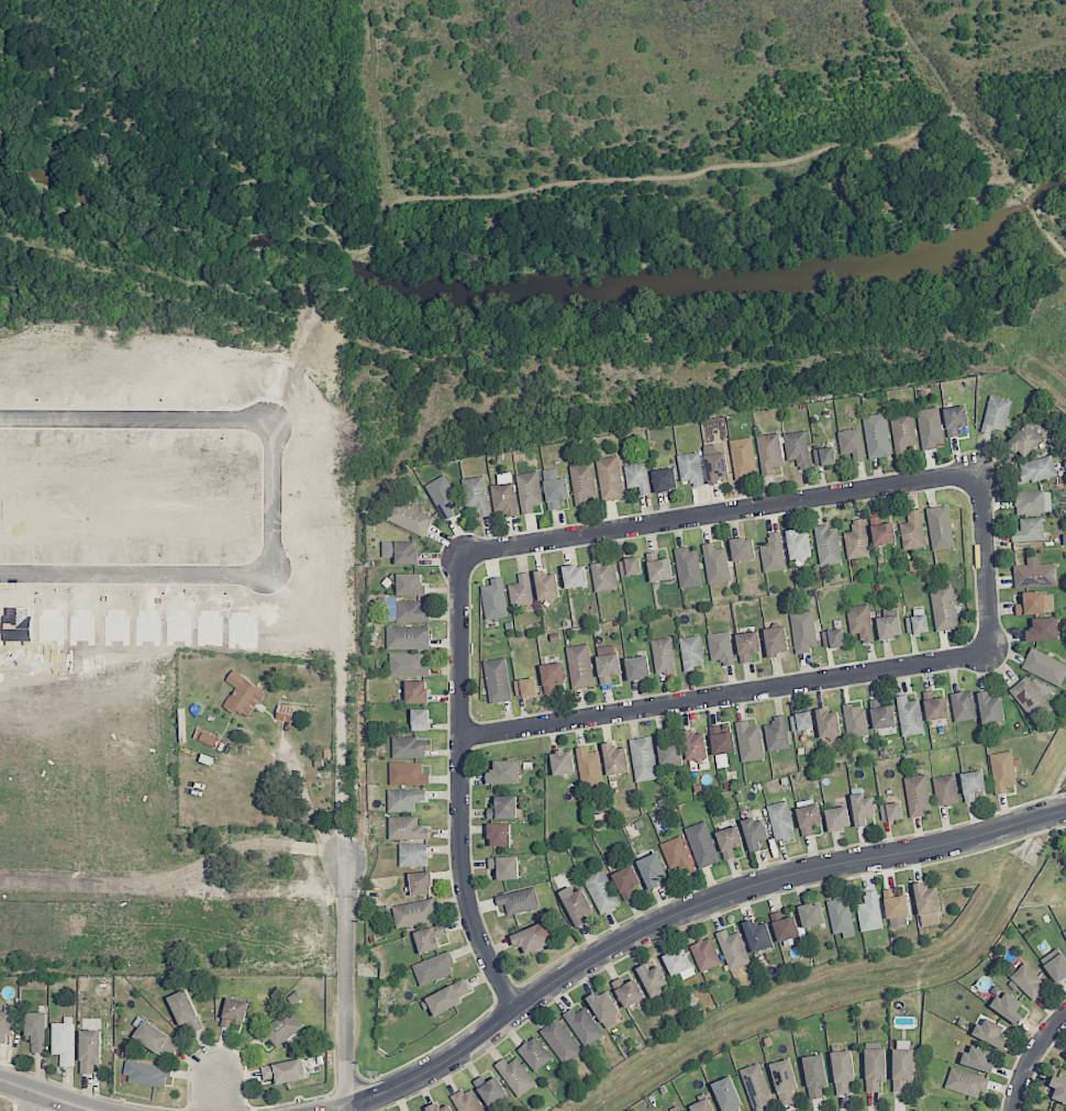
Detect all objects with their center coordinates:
building: (996, 414)
building: (955, 419)
building: (930, 427)
building: (902, 431)
building: (877, 435)
building: (1024, 441)
building: (851, 443)
building: (797, 448)
building: (769, 453)
building: (824, 456)
building: (743, 457)
building: (715, 464)
building: (691, 468)
building: (1037, 469)
building: (637, 477)
building: (610, 478)
building: (665, 479)
building: (582, 484)
building: (555, 489)
building: (529, 491)
road: (278, 492)
building: (476, 495)
building: (443, 497)
building: (504, 498)
building: (1033, 502)
road: (720, 513)
building: (409, 518)
building: (940, 527)
building: (1030, 530)
building: (912, 531)
building: (882, 532)
building: (857, 540)
building: (828, 545)
building: (798, 546)
building: (743, 548)
building: (400, 552)
building: (774, 554)
road: (985, 563)
building: (715, 564)
building: (630, 566)
building: (658, 567)
building: (688, 567)
building: (1034, 574)
building: (575, 576)
building: (603, 576)
building: (411, 585)
building: (547, 585)
building: (521, 591)
building: (493, 599)
building: (1036, 603)
building: (943, 609)
building: (406, 610)
building: (860, 622)
building: (917, 624)
building: (889, 626)
building: (1043, 630)
building: (803, 631)
building: (408, 637)
building: (833, 637)
building: (776, 641)
building: (747, 645)
building: (721, 647)
building: (691, 652)
building: (663, 656)
building: (607, 663)
building: (408, 665)
building: (580, 666)
building: (637, 667)
building: (1044, 667)
building: (552, 676)
building: (497, 680)
building: (525, 687)
building: (417, 691)
building: (243, 695)
road: (724, 698)
building: (1030, 700)
building: (935, 706)
building: (963, 706)
building: (990, 708)
building: (288, 713)
building: (881, 714)
building: (910, 716)
building: (420, 720)
building: (855, 720)
building: (801, 721)
building: (828, 723)
building: (777, 734)
building: (749, 742)
building: (695, 744)
building: (410, 747)
building: (668, 752)
building: (615, 759)
building: (643, 759)
building: (563, 763)
building: (589, 767)
building: (1002, 771)
building: (504, 773)
building: (408, 774)
building: (973, 785)
road: (458, 789)
building: (946, 790)
building: (918, 795)
building: (404, 799)
building: (503, 808)
building: (862, 809)
building: (891, 811)
building: (808, 818)
building: (837, 818)
building: (780, 821)
building: (407, 829)
building: (755, 832)
building: (499, 834)
building: (729, 842)
building: (701, 844)
building: (413, 855)
building: (676, 855)
building: (506, 867)
building: (652, 870)
building: (626, 881)
road: (175, 882)
building: (421, 884)
building: (600, 890)
building: (519, 901)
building: (577, 904)
building: (928, 904)
building: (896, 907)
road: (686, 911)
building: (869, 911)
building: (414, 913)
building: (811, 914)
building: (841, 916)
building: (785, 925)
building: (1065, 933)
building: (757, 935)
building: (532, 937)
building: (429, 938)
building: (733, 949)
building: (706, 954)
building: (679, 964)
building: (1055, 964)
building: (433, 968)
building: (653, 979)
road: (348, 981)
building: (1029, 981)
building: (629, 991)
building: (447, 998)
building: (1008, 1007)
building: (604, 1008)
building: (185, 1011)
building: (234, 1011)
building: (5, 1025)
building: (584, 1026)
building: (284, 1029)
building: (36, 1031)
building: (990, 1033)
building: (156, 1038)
building: (560, 1041)
building: (64, 1043)
building: (90, 1051)
building: (534, 1054)
building: (1065, 1055)
building: (977, 1058)
road: (1032, 1058)
building: (902, 1068)
building: (875, 1069)
building: (843, 1070)
building: (285, 1071)
building: (145, 1074)
building: (515, 1076)
building: (814, 1076)
building: (784, 1081)
building: (965, 1082)
building: (756, 1087)
building: (490, 1089)
building: (1058, 1089)
building: (726, 1095)
road: (44, 1097)
road: (220, 1100)
building: (467, 1101)
road: (29, 1102)
building: (702, 1106)
building: (438, 1108)
road: (338, 1109)
road: (346, 1109)
building: (422, 1110)
building: (682, 1110)

